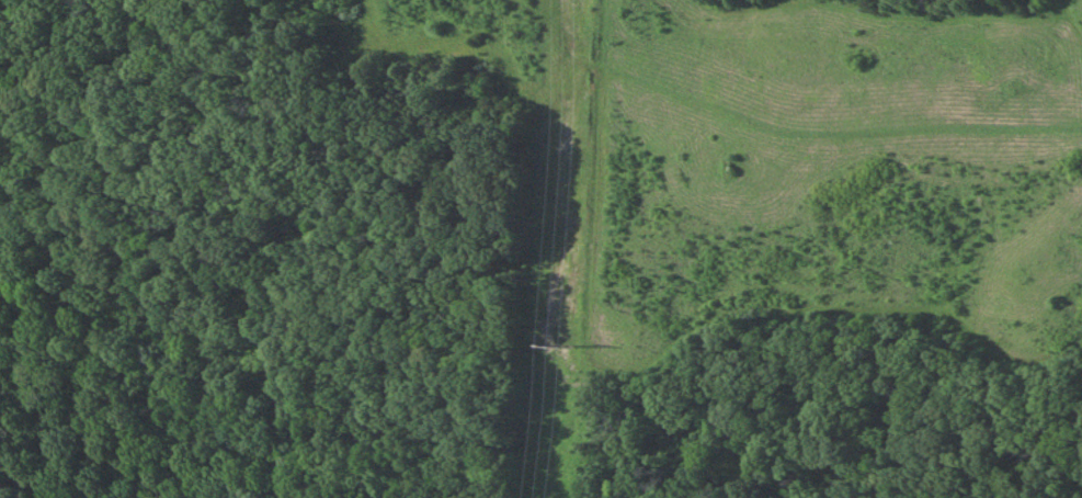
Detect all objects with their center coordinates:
power tower: (562, 339)

